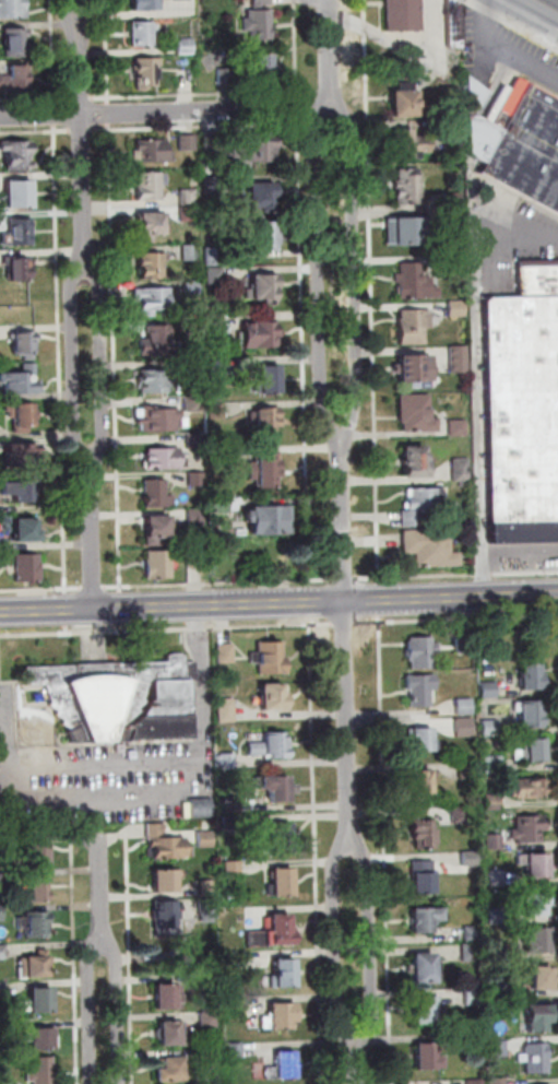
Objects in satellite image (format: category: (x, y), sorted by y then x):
building: (181, 0)
building: (261, 3)
building: (145, 4)
road: (545, 7)
road: (364, 9)
building: (13, 10)
building: (400, 14)
road: (69, 16)
road: (93, 16)
building: (452, 22)
road: (512, 22)
building: (259, 25)
road: (365, 27)
building: (143, 34)
road: (379, 36)
building: (17, 45)
building: (187, 46)
road: (504, 47)
road: (108, 51)
road: (55, 52)
road: (331, 52)
building: (264, 70)
building: (146, 74)
building: (185, 75)
building: (227, 75)
building: (17, 82)
road: (211, 94)
road: (36, 99)
road: (82, 99)
building: (406, 101)
road: (165, 111)
road: (109, 113)
road: (57, 115)
road: (79, 130)
road: (37, 131)
building: (211, 141)
building: (402, 141)
building: (518, 141)
building: (189, 143)
road: (84, 148)
building: (153, 149)
building: (261, 149)
building: (235, 154)
building: (17, 157)
building: (151, 182)
building: (212, 184)
building: (407, 185)
building: (261, 191)
building: (21, 197)
building: (189, 197)
building: (189, 214)
building: (149, 223)
building: (408, 228)
building: (22, 234)
building: (264, 234)
building: (189, 254)
building: (213, 256)
building: (149, 264)
building: (20, 269)
building: (215, 276)
building: (414, 281)
road: (334, 283)
building: (263, 286)
building: (192, 288)
road: (304, 290)
building: (152, 298)
building: (454, 307)
road: (371, 309)
building: (413, 321)
building: (215, 322)
building: (259, 333)
building: (23, 342)
building: (156, 343)
road: (116, 354)
road: (60, 355)
building: (455, 357)
road: (100, 361)
road: (74, 362)
road: (474, 362)
building: (415, 365)
building: (217, 367)
building: (192, 368)
building: (21, 379)
building: (268, 379)
building: (154, 381)
building: (194, 403)
building: (520, 406)
building: (414, 408)
building: (216, 410)
building: (21, 414)
building: (158, 420)
building: (265, 420)
building: (454, 426)
building: (195, 440)
building: (21, 453)
building: (218, 453)
building: (415, 456)
building: (161, 458)
building: (458, 468)
building: (265, 470)
building: (197, 479)
building: (20, 491)
building: (156, 493)
building: (419, 495)
building: (221, 508)
building: (197, 516)
building: (268, 517)
building: (156, 527)
building: (25, 529)
road: (92, 531)
building: (429, 543)
road: (499, 554)
building: (194, 559)
building: (157, 563)
building: (27, 567)
road: (456, 574)
road: (344, 578)
road: (218, 582)
road: (93, 587)
road: (41, 589)
road: (450, 598)
road: (380, 603)
road: (171, 606)
road: (456, 620)
road: (344, 623)
road: (167, 628)
building: (464, 646)
building: (422, 651)
building: (225, 652)
road: (344, 655)
building: (270, 658)
building: (532, 675)
building: (420, 688)
building: (489, 690)
building: (273, 694)
building: (95, 698)
building: (165, 704)
building: (464, 706)
building: (225, 709)
building: (531, 714)
building: (464, 727)
building: (490, 728)
building: (422, 740)
building: (271, 745)
building: (532, 751)
building: (227, 762)
road: (171, 763)
building: (494, 765)
building: (467, 769)
building: (419, 782)
building: (276, 786)
building: (527, 788)
building: (492, 802)
building: (231, 803)
building: (200, 808)
building: (459, 814)
building: (231, 822)
building: (530, 829)
building: (424, 833)
road: (116, 837)
building: (204, 838)
building: (278, 838)
road: (80, 839)
building: (492, 843)
building: (2, 844)
building: (166, 844)
building: (37, 853)
road: (316, 853)
road: (385, 853)
building: (470, 858)
building: (535, 863)
building: (231, 868)
building: (423, 876)
building: (495, 877)
building: (1, 879)
building: (164, 881)
building: (282, 881)
building: (39, 887)
building: (206, 887)
road: (100, 894)
building: (536, 904)
building: (206, 906)
building: (1, 912)
building: (497, 916)
building: (164, 918)
building: (425, 919)
building: (37, 924)
building: (274, 931)
building: (473, 933)
building: (538, 940)
road: (370, 943)
road: (335, 946)
building: (2, 952)
building: (471, 952)
building: (500, 954)
road: (129, 958)
building: (238, 958)
road: (74, 962)
building: (425, 966)
building: (33, 967)
building: (283, 973)
building: (539, 977)
building: (209, 982)
building: (502, 985)
building: (2, 990)
building: (167, 995)
building: (473, 997)
building: (41, 999)
building: (236, 1006)
building: (427, 1009)
building: (499, 1010)
road: (91, 1012)
road: (115, 1013)
building: (282, 1014)
building: (538, 1016)
building: (207, 1018)
building: (3, 1027)
building: (171, 1033)
building: (41, 1038)
building: (467, 1042)
building: (499, 1049)
building: (234, 1050)
building: (211, 1053)
building: (427, 1057)
building: (535, 1058)
road: (357, 1062)
building: (282, 1065)
building: (169, 1068)
building: (41, 1071)
building: (496, 1081)
building: (3, 1082)
building: (475, 1082)

